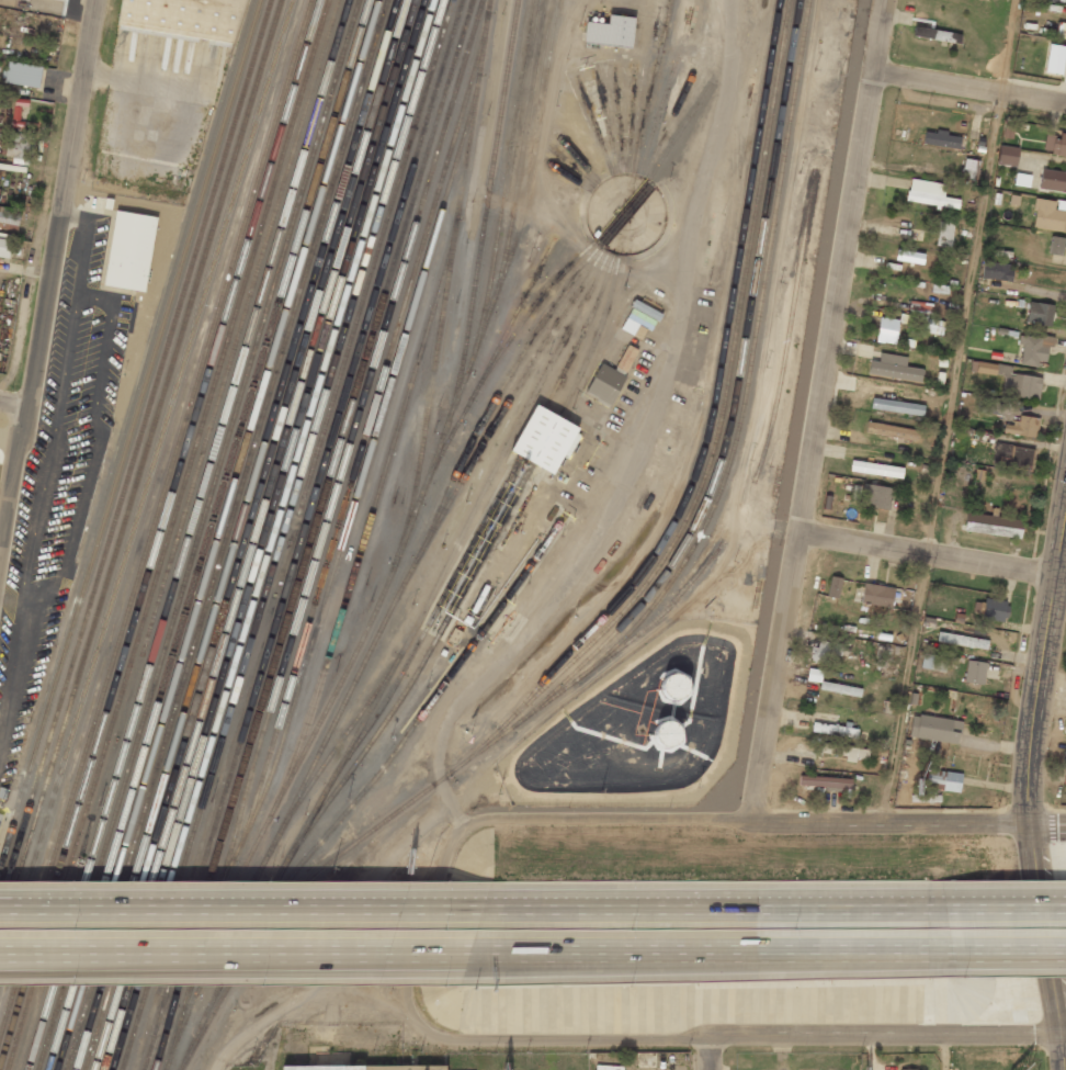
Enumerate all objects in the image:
building: (60, 0)
building: (1050, 1)
building: (182, 18)
building: (610, 31)
building: (935, 35)
road: (1009, 46)
building: (1054, 59)
building: (23, 74)
railway: (653, 87)
road: (969, 87)
railway: (620, 120)
railway: (631, 120)
railway: (606, 121)
railway: (657, 122)
railway: (594, 125)
railway: (668, 126)
railway: (679, 131)
building: (940, 139)
building: (1055, 144)
building: (19, 145)
railway: (523, 149)
building: (1007, 155)
railway: (577, 158)
railway: (571, 168)
building: (969, 169)
railway: (569, 177)
railway: (504, 179)
building: (1053, 180)
building: (929, 194)
railway: (585, 211)
railway: (523, 215)
building: (1048, 216)
building: (9, 218)
building: (944, 234)
building: (5, 245)
building: (1056, 246)
building: (129, 251)
building: (923, 258)
railway: (372, 268)
road: (49, 271)
building: (996, 271)
railway: (517, 311)
building: (1039, 314)
building: (922, 320)
railway: (441, 322)
building: (886, 329)
building: (1034, 350)
railway: (498, 358)
building: (625, 360)
building: (894, 368)
building: (1010, 380)
building: (604, 384)
railway: (502, 390)
railway: (734, 393)
railway: (714, 395)
road: (13, 401)
building: (897, 406)
road: (818, 409)
railway: (282, 416)
railway: (155, 423)
building: (1021, 427)
railway: (718, 429)
building: (892, 431)
railway: (131, 433)
building: (551, 442)
railway: (372, 443)
railway: (135, 451)
railway: (360, 452)
building: (1012, 455)
road: (943, 457)
building: (875, 469)
railway: (146, 484)
building: (874, 495)
railway: (150, 500)
railway: (714, 503)
railway: (417, 504)
railway: (476, 514)
railway: (370, 515)
railway: (155, 517)
building: (993, 525)
railway: (159, 531)
railway: (321, 533)
railway: (168, 534)
railway: (178, 534)
railway: (189, 534)
railway: (197, 534)
railway: (207, 534)
railway: (217, 534)
railway: (226, 534)
railway: (254, 534)
railway: (263, 534)
railway: (273, 534)
railway: (283, 534)
railway: (302, 534)
railway: (311, 534)
railway: (429, 537)
road: (932, 553)
railway: (464, 561)
building: (833, 587)
building: (876, 595)
building: (995, 609)
building: (962, 640)
building: (828, 651)
road: (1040, 660)
building: (933, 662)
railway: (418, 672)
building: (974, 672)
building: (676, 687)
building: (840, 689)
building: (1065, 727)
building: (934, 729)
building: (833, 730)
building: (667, 734)
building: (844, 752)
building: (1064, 770)
building: (825, 781)
building: (939, 781)
railway: (366, 788)
building: (0, 816)
road: (684, 820)
road: (1047, 821)
railway: (148, 834)
railway: (270, 852)
railway: (14, 891)
road: (1020, 912)
road: (734, 915)
road: (247, 916)
road: (1043, 928)
railway: (124, 950)
road: (246, 957)
road: (1020, 957)
road: (734, 959)
road: (698, 1037)
road: (1061, 1037)
road: (710, 1054)
road: (942, 1054)
road: (1056, 1054)
building: (367, 1068)
building: (909, 1069)

